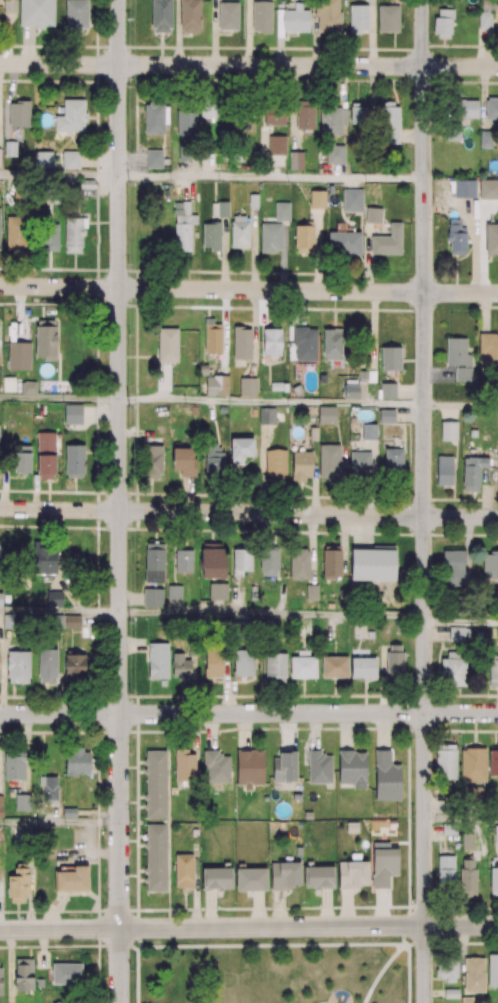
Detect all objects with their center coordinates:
road: (248, 65)
road: (59, 175)
road: (270, 177)
road: (248, 290)
building: (247, 385)
building: (387, 390)
road: (59, 399)
road: (271, 403)
road: (460, 406)
building: (326, 414)
building: (266, 415)
building: (385, 415)
building: (448, 430)
building: (368, 431)
building: (312, 433)
road: (119, 501)
road: (423, 501)
road: (248, 513)
building: (217, 591)
building: (173, 592)
building: (310, 592)
building: (152, 597)
building: (0, 598)
road: (59, 612)
road: (271, 614)
road: (460, 624)
road: (248, 714)
building: (215, 766)
building: (318, 767)
building: (1, 806)
building: (69, 812)
road: (460, 820)
road: (60, 824)
building: (351, 827)
building: (496, 834)
building: (466, 841)
road: (136, 859)
road: (407, 859)
building: (183, 870)
building: (71, 879)
building: (250, 880)
road: (248, 926)
road: (318, 943)
road: (68, 944)
park: (271, 969)
road: (379, 970)
building: (492, 970)
building: (450, 993)
building: (465, 1000)

